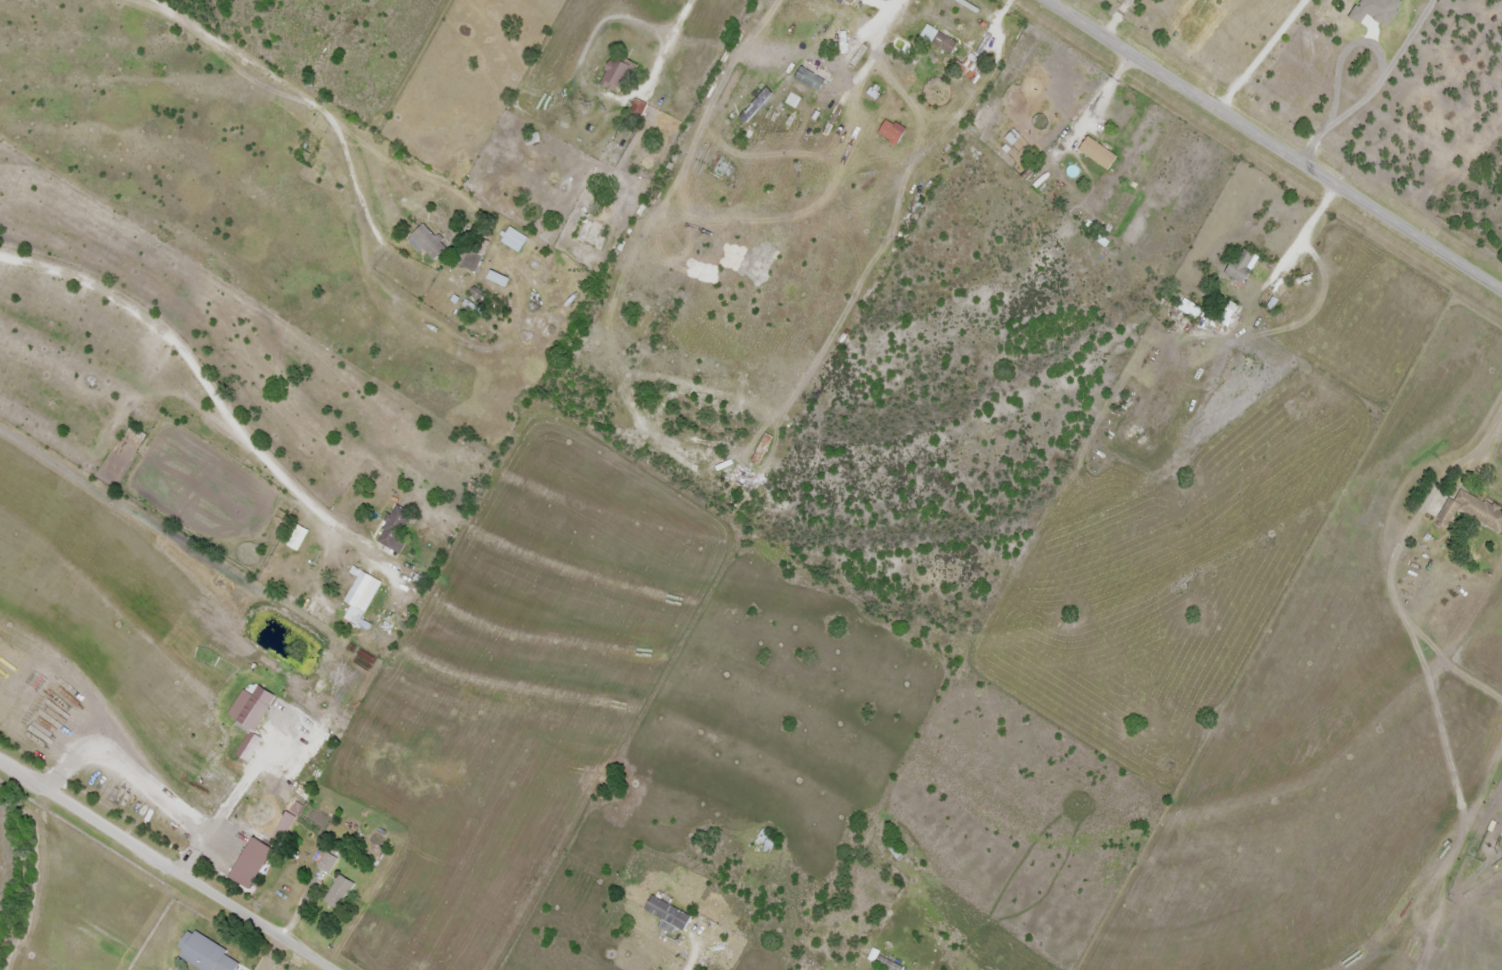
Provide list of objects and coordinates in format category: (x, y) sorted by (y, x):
building: (1346, 22)
road: (297, 94)
road: (1273, 146)
building: (1097, 154)
building: (515, 242)
building: (1190, 310)
road: (206, 391)
road: (1487, 431)
building: (1472, 511)
building: (364, 597)
building: (255, 703)
building: (767, 843)
road: (166, 865)
building: (667, 915)

